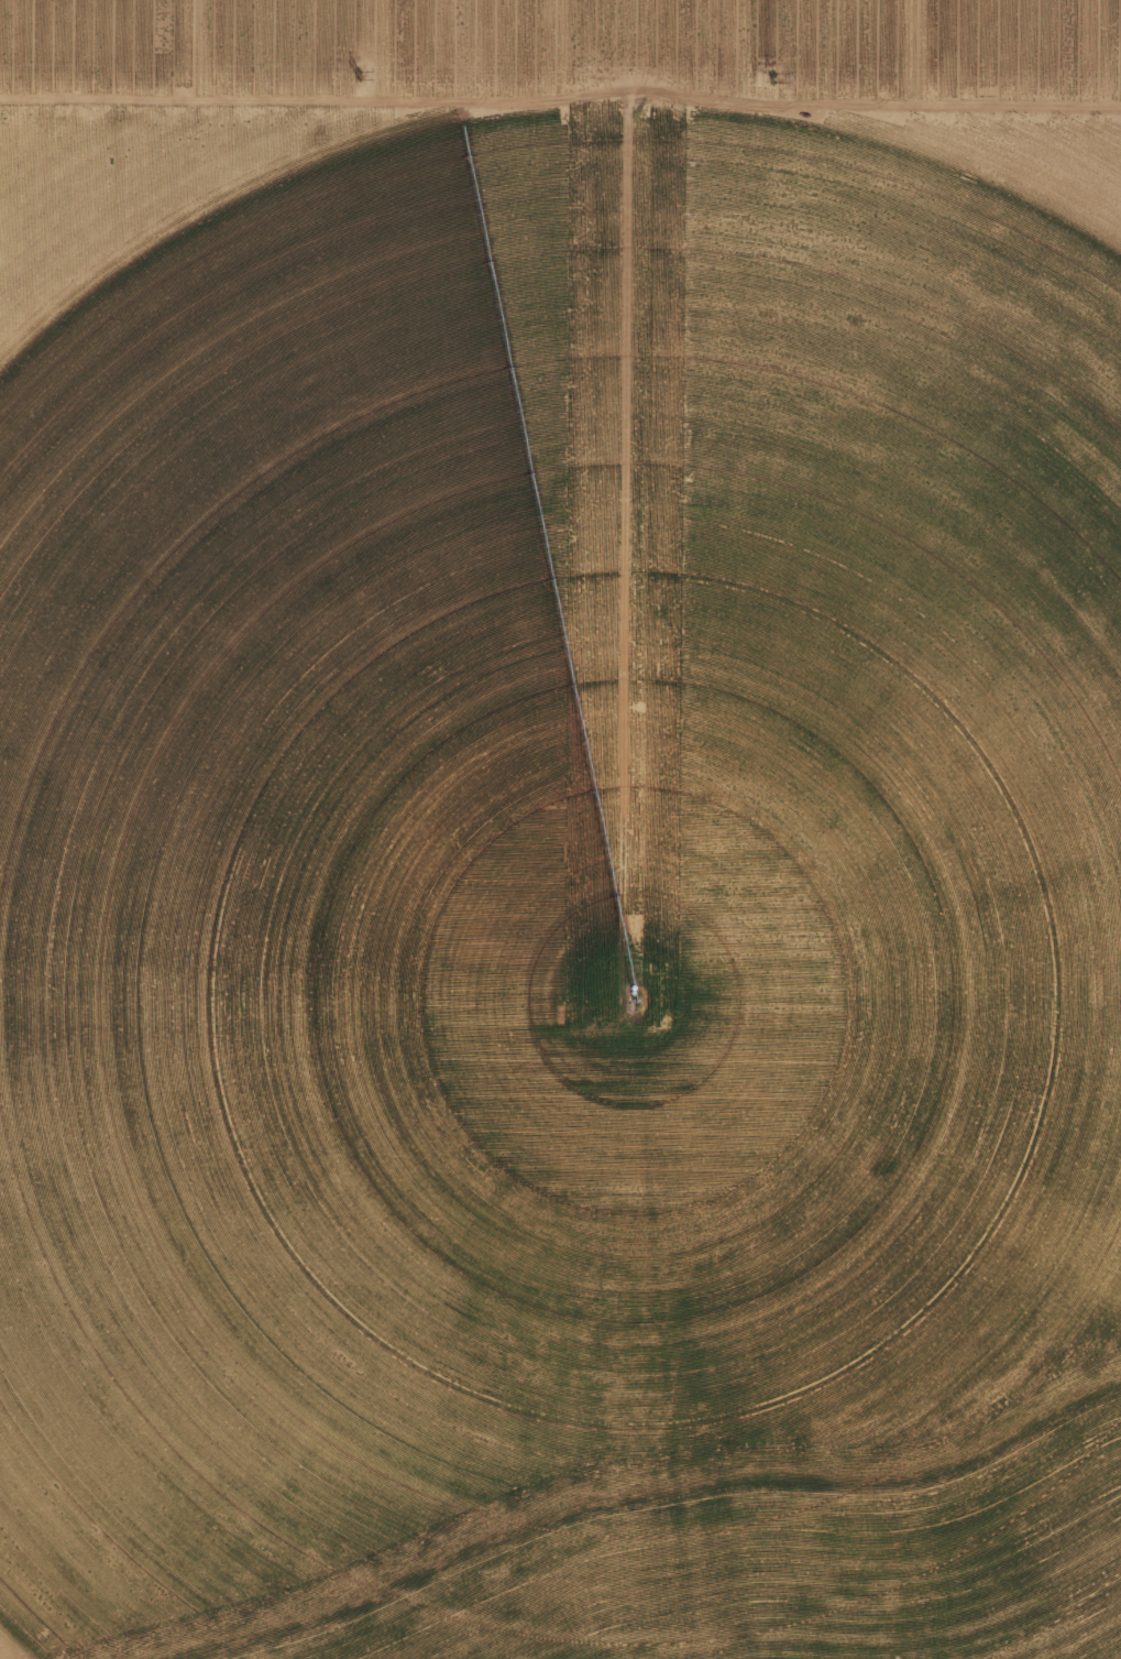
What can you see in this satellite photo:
power tower: (354, 75)
power tower: (768, 77)
road: (560, 96)

